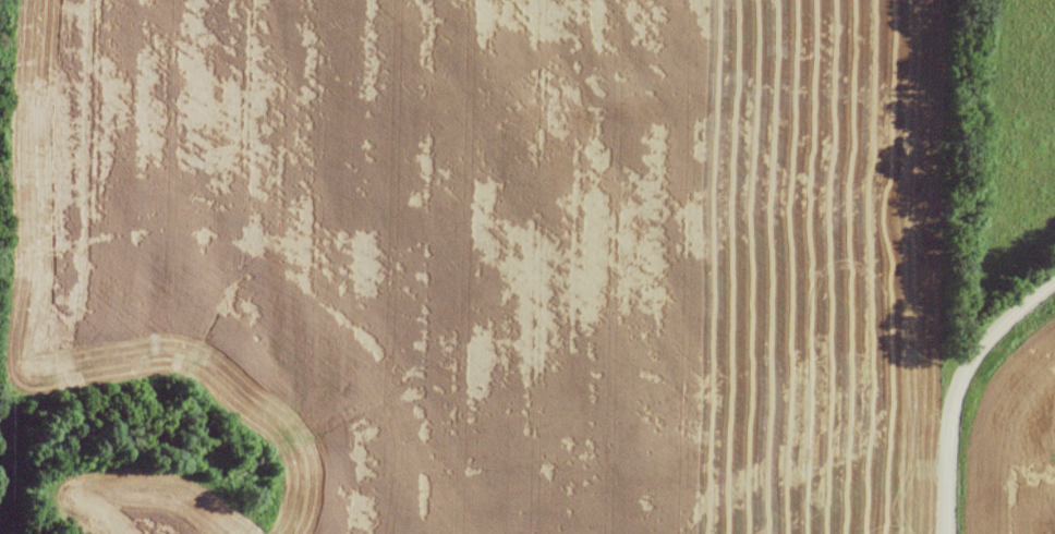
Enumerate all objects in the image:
road: (954, 385)

